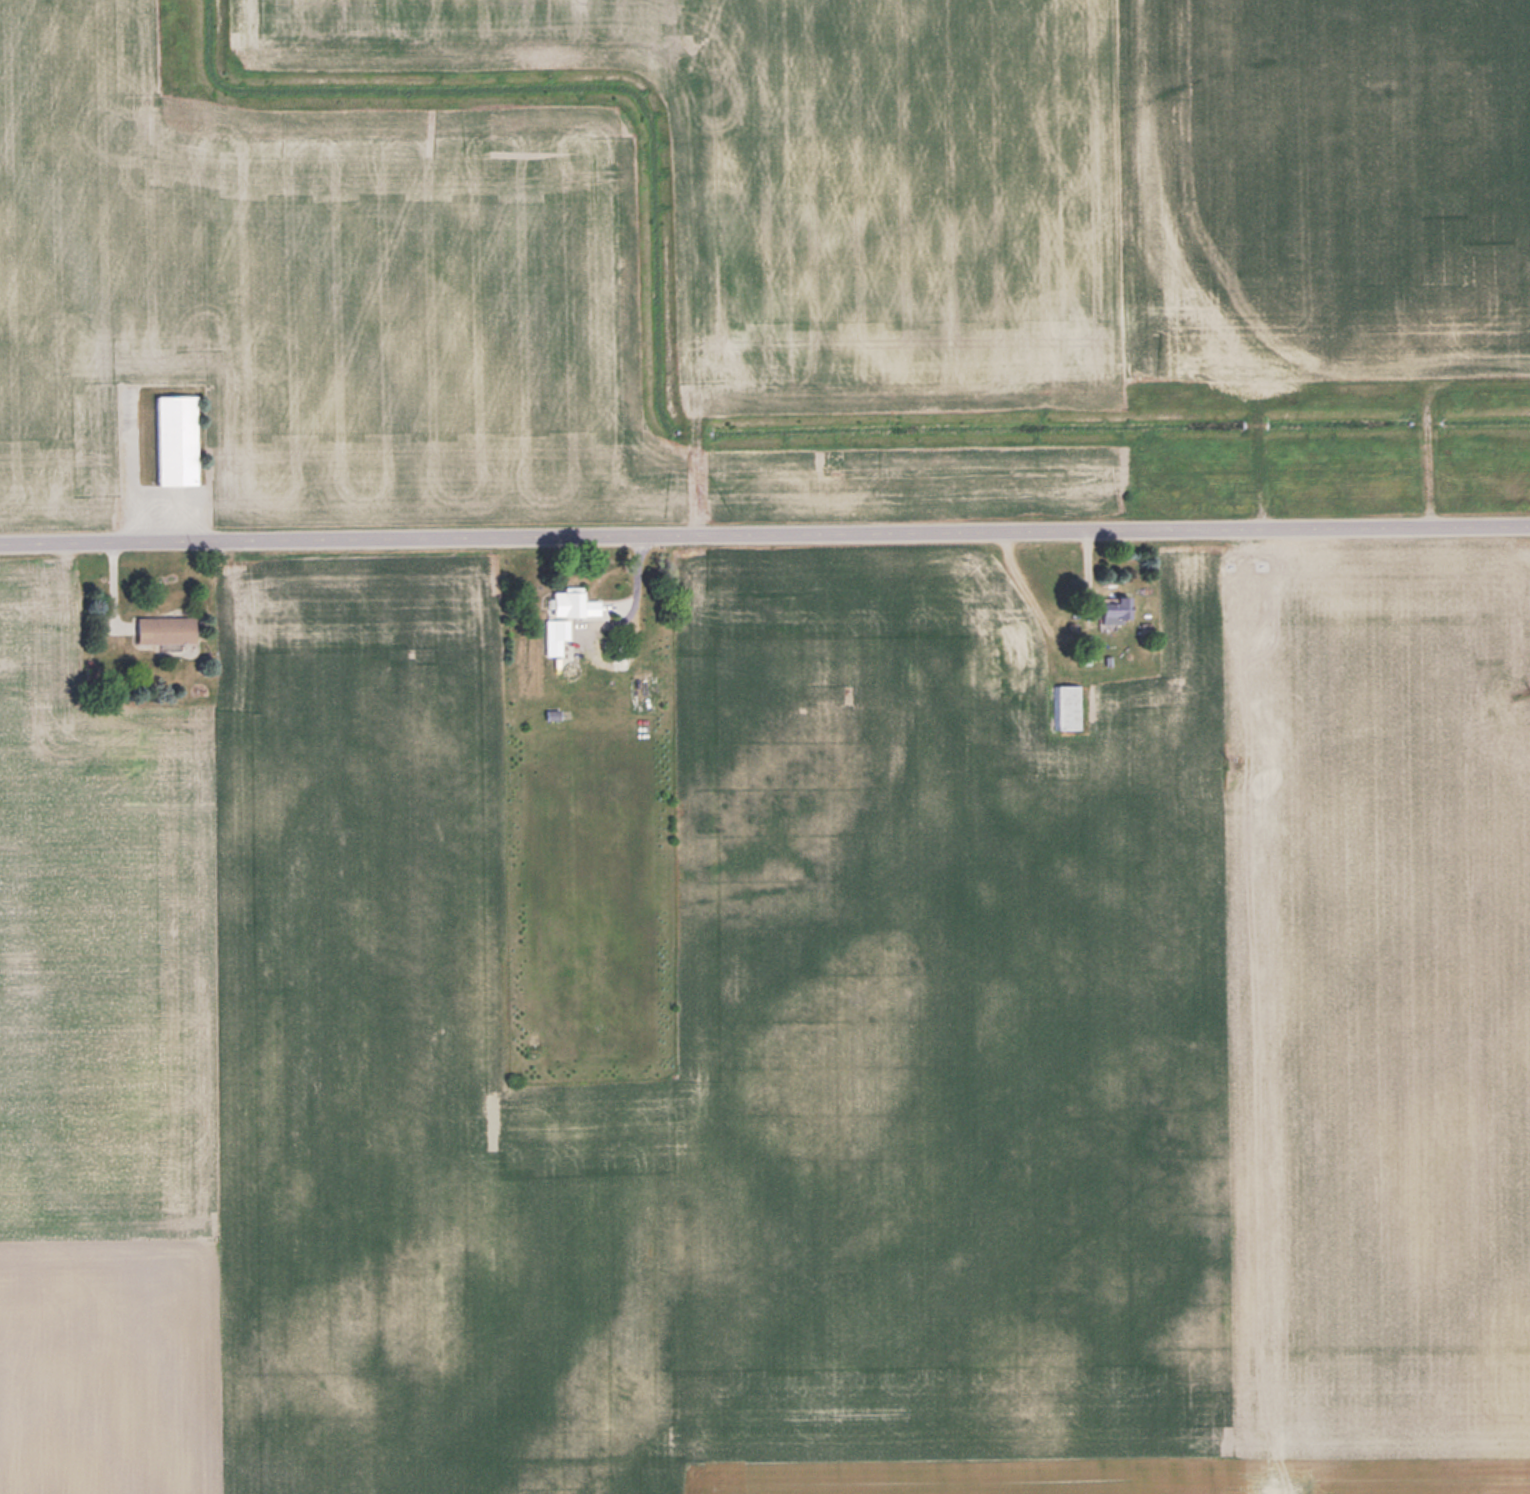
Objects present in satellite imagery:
building: (179, 439)
road: (765, 536)
building: (1118, 608)
building: (564, 619)
building: (168, 629)

